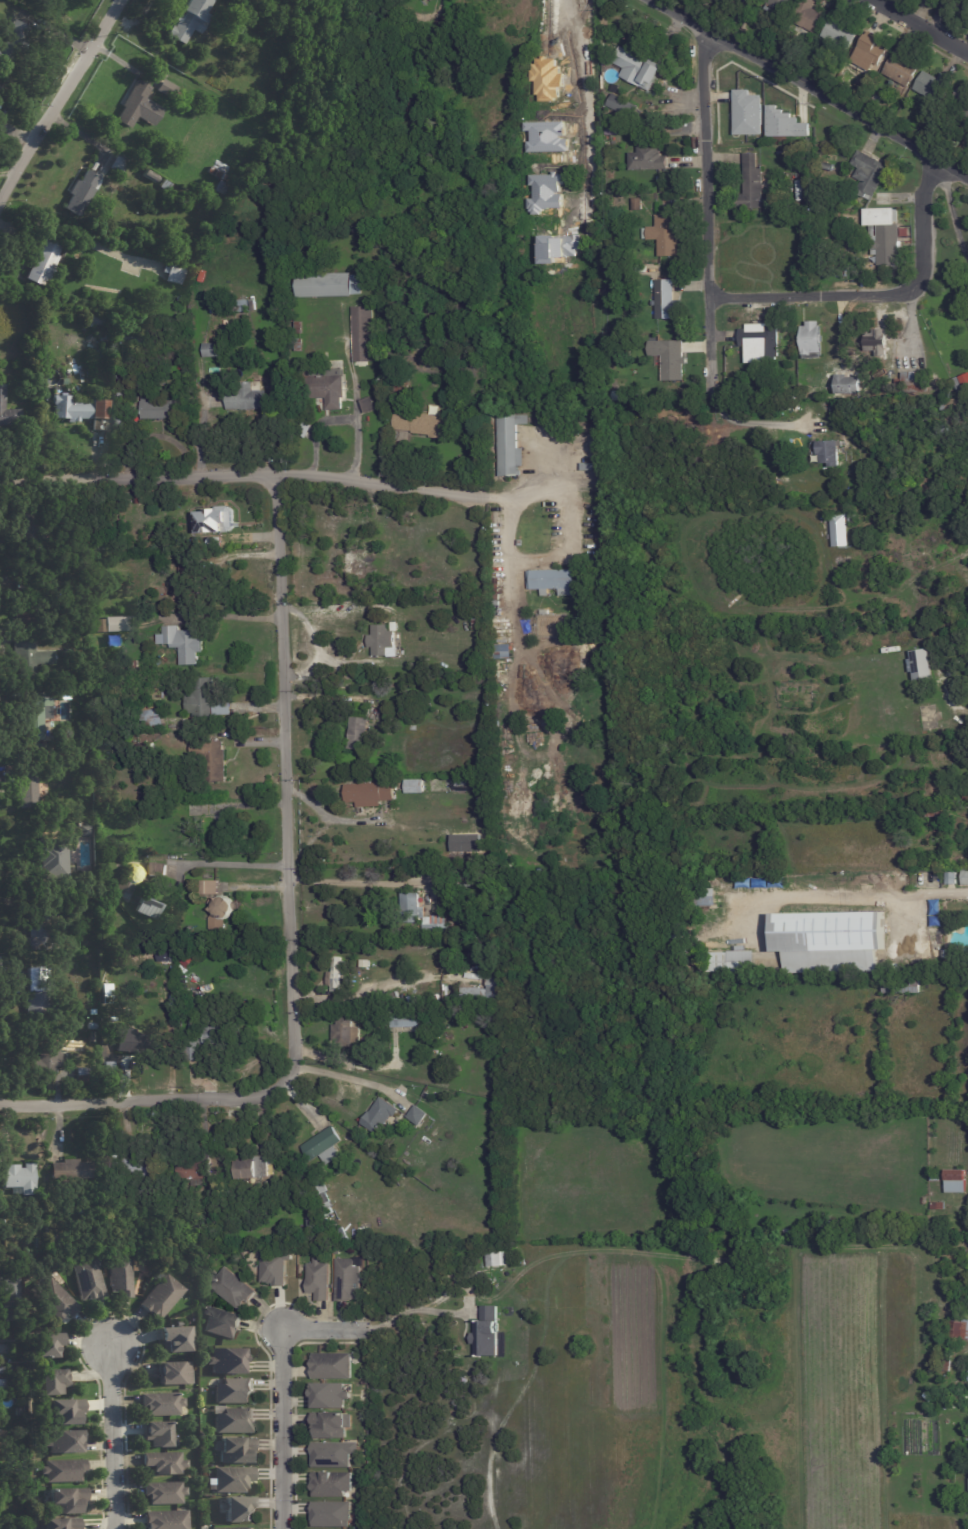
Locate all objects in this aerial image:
building: (752, 0)
building: (746, 1)
building: (40, 2)
building: (2, 4)
building: (781, 5)
building: (958, 5)
building: (495, 6)
building: (289, 7)
building: (453, 12)
building: (811, 17)
building: (146, 20)
building: (190, 20)
road: (924, 25)
building: (238, 29)
building: (841, 33)
building: (12, 41)
building: (520, 45)
building: (871, 54)
building: (517, 60)
building: (455, 62)
building: (638, 67)
building: (903, 69)
building: (613, 87)
road: (809, 87)
building: (935, 87)
building: (0, 88)
building: (169, 91)
building: (902, 91)
building: (677, 93)
road: (60, 100)
building: (187, 101)
building: (961, 103)
building: (624, 106)
building: (139, 107)
building: (193, 107)
building: (743, 112)
building: (779, 123)
building: (613, 128)
road: (587, 130)
building: (655, 136)
building: (648, 158)
building: (804, 158)
building: (120, 163)
building: (828, 166)
building: (95, 167)
building: (870, 174)
building: (151, 175)
building: (591, 175)
building: (776, 179)
building: (219, 180)
building: (752, 184)
building: (165, 185)
building: (81, 192)
building: (884, 199)
building: (598, 201)
building: (637, 204)
building: (810, 207)
road: (951, 209)
road: (703, 211)
road: (921, 218)
building: (885, 234)
building: (665, 237)
building: (44, 261)
building: (640, 269)
building: (175, 273)
building: (835, 273)
building: (329, 285)
building: (61, 296)
road: (812, 296)
building: (182, 298)
building: (669, 301)
building: (231, 307)
building: (400, 310)
building: (94, 320)
building: (299, 327)
building: (363, 334)
building: (135, 340)
building: (757, 340)
building: (810, 340)
building: (103, 343)
building: (299, 345)
building: (212, 350)
building: (670, 360)
building: (958, 384)
building: (912, 385)
building: (325, 386)
building: (403, 386)
building: (121, 395)
building: (622, 396)
building: (247, 397)
building: (368, 405)
road: (356, 406)
building: (833, 408)
building: (78, 409)
building: (160, 409)
building: (8, 412)
building: (119, 417)
road: (339, 420)
road: (754, 422)
building: (425, 425)
building: (303, 430)
building: (511, 445)
building: (830, 452)
building: (587, 477)
road: (240, 481)
building: (139, 500)
building: (853, 519)
building: (215, 521)
building: (26, 531)
building: (840, 531)
building: (518, 533)
building: (520, 543)
building: (348, 556)
building: (39, 570)
building: (121, 572)
building: (155, 577)
building: (60, 579)
building: (522, 579)
road: (507, 580)
building: (594, 581)
building: (553, 582)
building: (399, 584)
building: (187, 587)
building: (535, 598)
building: (27, 602)
building: (117, 623)
building: (101, 624)
building: (477, 624)
building: (550, 626)
building: (381, 641)
building: (184, 642)
building: (30, 653)
building: (135, 664)
building: (922, 665)
road: (939, 683)
building: (208, 696)
building: (36, 714)
building: (154, 716)
building: (388, 716)
building: (362, 730)
building: (147, 748)
building: (37, 749)
building: (210, 758)
road: (287, 785)
building: (452, 785)
building: (415, 787)
building: (27, 789)
building: (369, 795)
building: (966, 799)
building: (194, 809)
building: (937, 812)
road: (331, 817)
building: (86, 830)
building: (469, 854)
building: (52, 858)
road: (227, 862)
road: (176, 869)
building: (540, 869)
building: (157, 870)
building: (468, 875)
building: (130, 876)
building: (965, 878)
building: (928, 879)
building: (952, 879)
road: (357, 881)
road: (255, 886)
building: (208, 887)
building: (63, 891)
building: (706, 898)
road: (845, 898)
building: (148, 906)
building: (221, 913)
building: (420, 914)
building: (936, 914)
road: (757, 923)
building: (42, 933)
building: (832, 940)
building: (946, 955)
building: (188, 959)
building: (365, 963)
building: (731, 963)
building: (18, 966)
building: (129, 974)
building: (335, 974)
building: (492, 985)
building: (902, 986)
building: (40, 992)
building: (105, 993)
building: (394, 994)
building: (474, 995)
building: (247, 1001)
building: (383, 1001)
building: (444, 1012)
building: (456, 1012)
building: (366, 1013)
building: (424, 1019)
building: (401, 1020)
building: (83, 1021)
building: (92, 1025)
building: (346, 1033)
building: (220, 1035)
building: (92, 1036)
building: (128, 1040)
building: (192, 1051)
building: (65, 1053)
building: (46, 1058)
building: (82, 1063)
building: (87, 1073)
road: (351, 1080)
building: (478, 1092)
building: (425, 1094)
road: (141, 1102)
building: (380, 1115)
building: (417, 1115)
building: (324, 1146)
building: (194, 1168)
building: (250, 1168)
building: (73, 1169)
building: (136, 1169)
park: (742, 1172)
building: (20, 1175)
building: (937, 1179)
building: (957, 1184)
building: (318, 1187)
building: (217, 1199)
building: (323, 1202)
building: (924, 1202)
building: (308, 1207)
building: (938, 1207)
building: (2, 1209)
building: (216, 1210)
building: (328, 1212)
building: (140, 1217)
building: (313, 1222)
building: (838, 1228)
building: (343, 1235)
building: (56, 1242)
building: (173, 1242)
building: (92, 1244)
building: (136, 1246)
road: (602, 1255)
building: (490, 1258)
building: (359, 1262)
building: (270, 1268)
building: (122, 1276)
road: (490, 1277)
building: (89, 1279)
building: (313, 1279)
building: (343, 1280)
building: (227, 1286)
building: (9, 1295)
building: (163, 1296)
building: (54, 1299)
road: (409, 1310)
building: (216, 1321)
road: (322, 1327)
building: (482, 1332)
building: (959, 1332)
building: (176, 1338)
road: (792, 1339)
building: (46, 1345)
building: (958, 1345)
building: (222, 1359)
building: (947, 1364)
building: (333, 1366)
building: (19, 1373)
building: (175, 1373)
building: (364, 1377)
building: (2, 1380)
building: (53, 1382)
building: (20, 1386)
building: (235, 1391)
building: (330, 1396)
building: (162, 1403)
building: (24, 1411)
building: (19, 1412)
building: (65, 1412)
building: (233, 1420)
building: (22, 1426)
building: (331, 1426)
road: (285, 1428)
road: (774, 1429)
building: (158, 1435)
road: (113, 1439)
building: (1, 1442)
building: (65, 1442)
building: (235, 1450)
building: (331, 1456)
road: (793, 1457)
building: (165, 1463)
building: (64, 1470)
building: (233, 1479)
building: (5, 1485)
building: (331, 1485)
building: (165, 1493)
building: (22, 1494)
building: (66, 1500)
building: (238, 1510)
building: (331, 1515)
building: (167, 1520)
building: (62, 1523)
building: (229, 1528)

